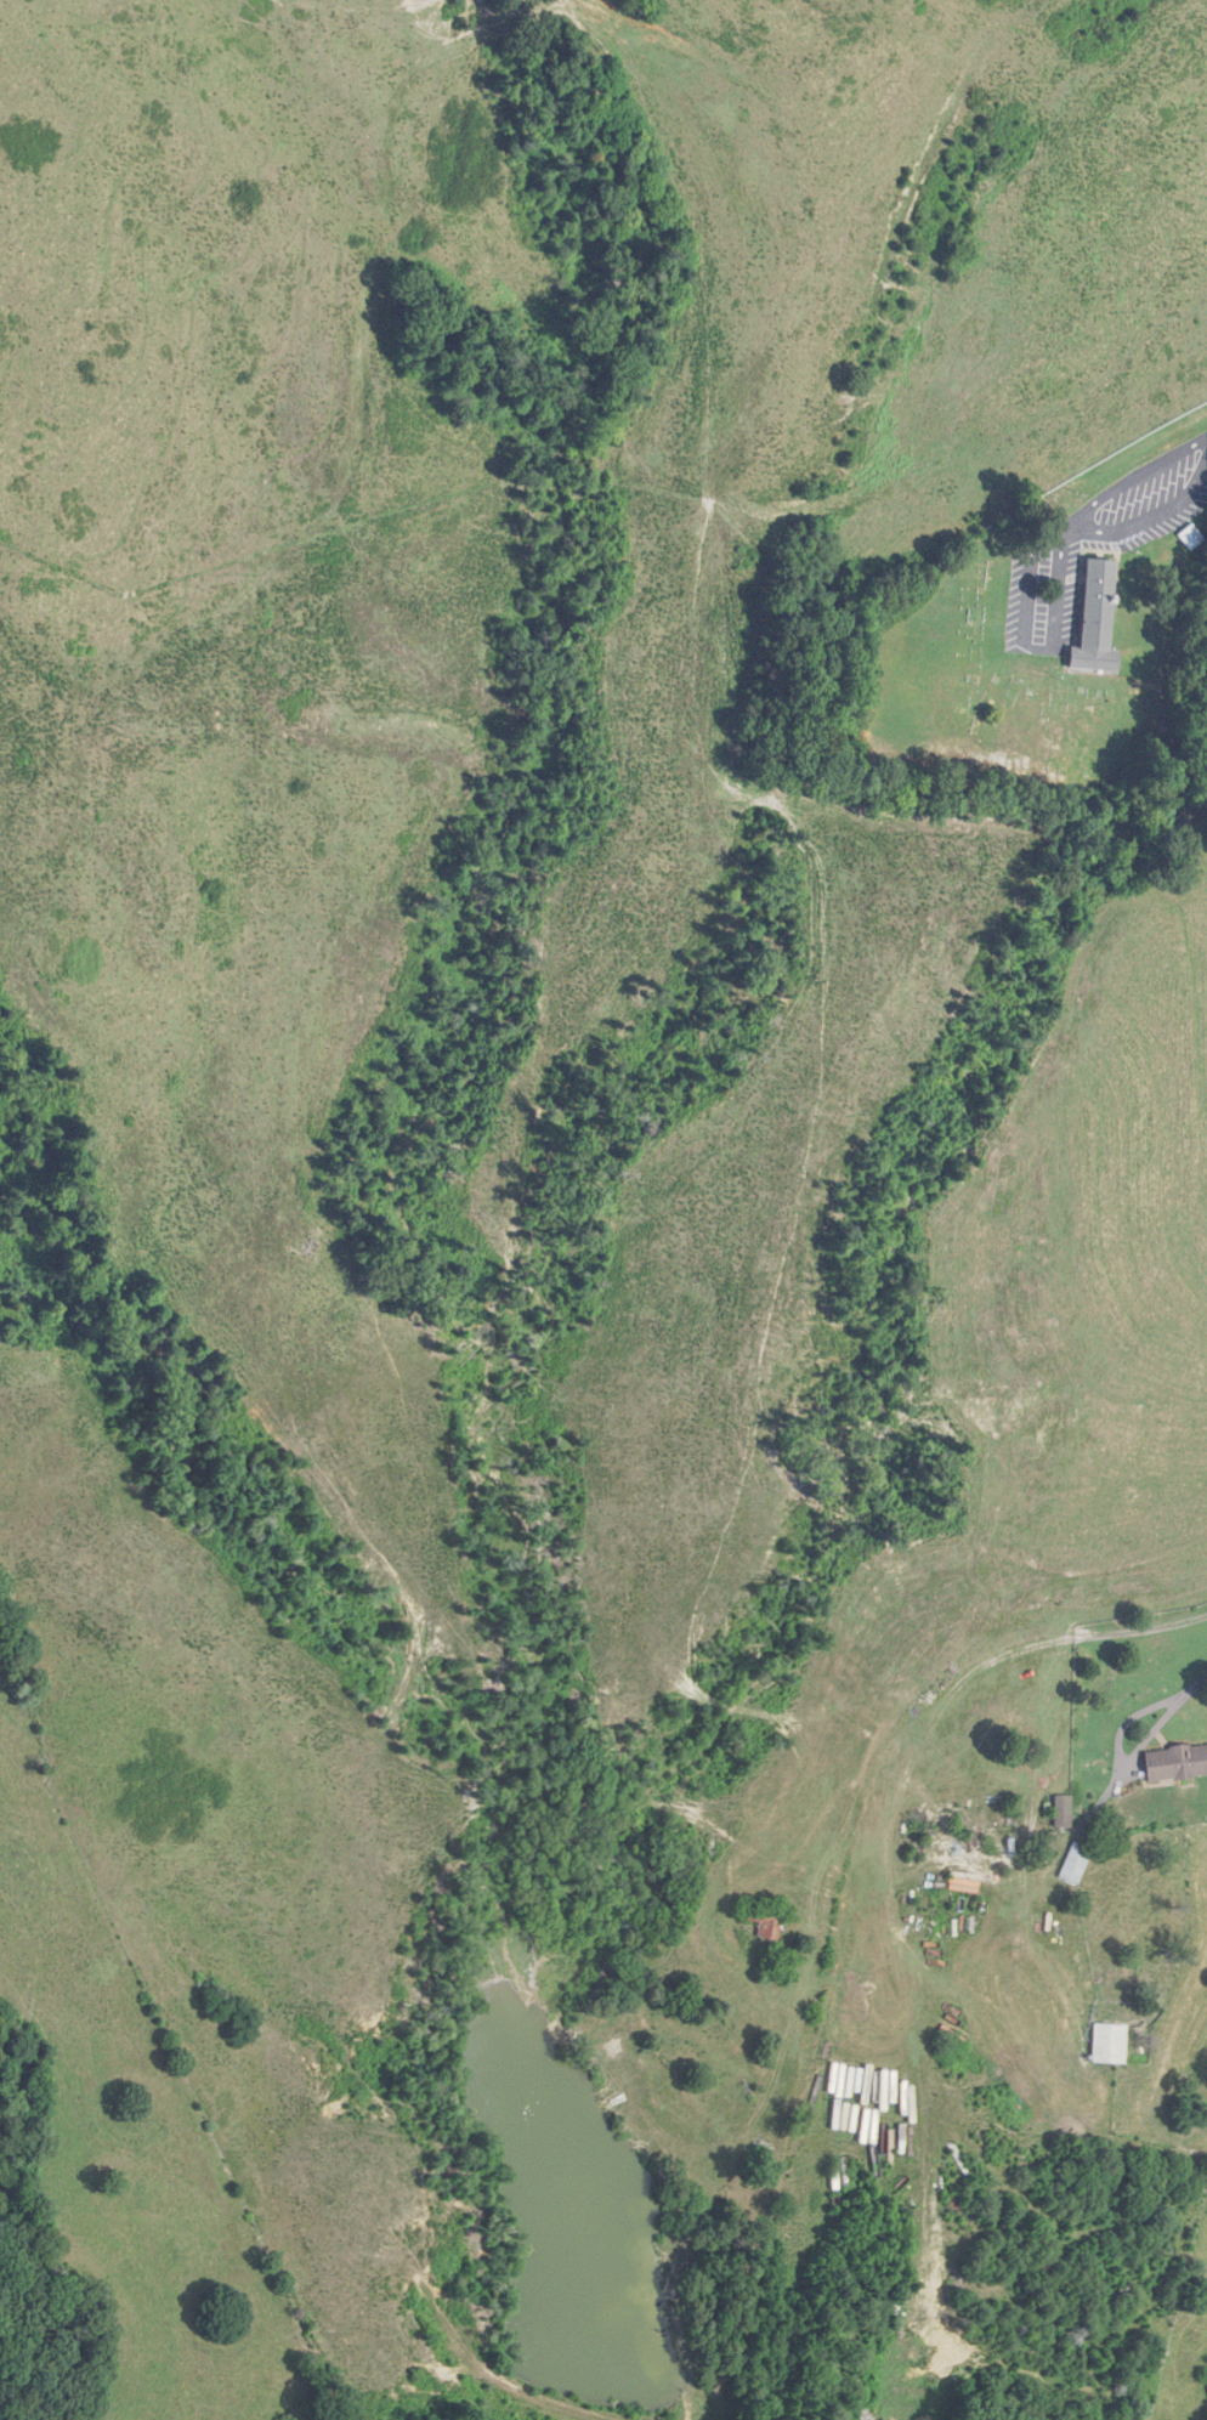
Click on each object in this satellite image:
road: (1141, 476)
building: (1188, 537)
building: (1092, 618)
road: (1197, 1683)
road: (1118, 1753)
building: (1174, 1763)
building: (1061, 1810)
building: (1075, 1863)
building: (763, 1922)
building: (1106, 2044)

